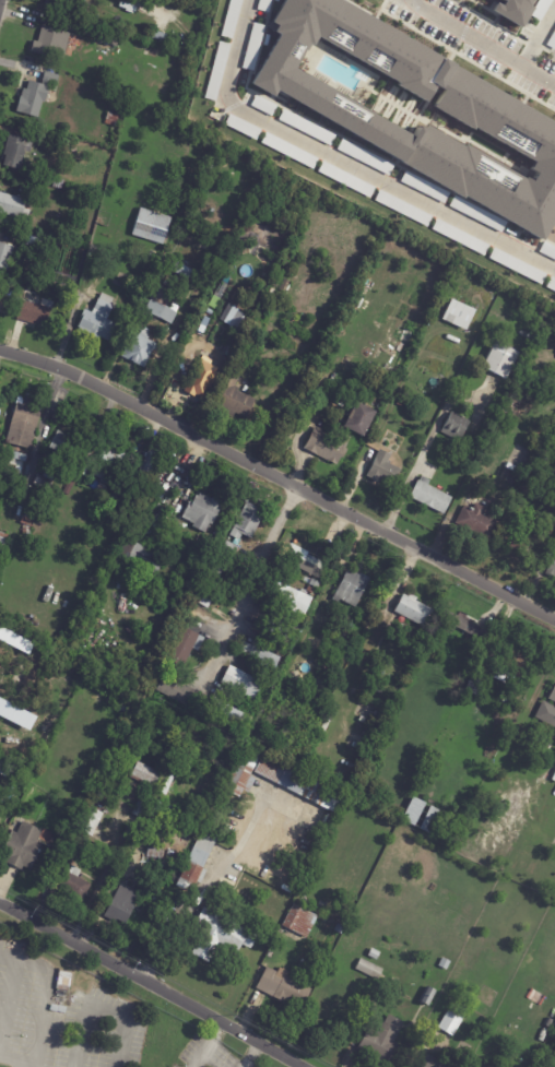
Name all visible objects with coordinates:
building: (517, 2)
building: (102, 3)
building: (59, 5)
building: (541, 9)
building: (229, 19)
road: (486, 37)
building: (111, 38)
building: (552, 39)
building: (50, 43)
building: (152, 50)
building: (215, 71)
building: (35, 96)
building: (493, 115)
building: (111, 118)
building: (241, 127)
building: (306, 127)
building: (37, 138)
building: (177, 142)
building: (236, 142)
building: (186, 145)
building: (190, 146)
building: (288, 150)
building: (17, 151)
building: (364, 157)
road: (343, 161)
building: (345, 179)
building: (59, 183)
building: (424, 187)
building: (14, 204)
building: (402, 208)
building: (366, 220)
building: (152, 226)
building: (188, 226)
building: (199, 226)
building: (460, 237)
building: (34, 245)
building: (547, 250)
building: (7, 256)
building: (517, 265)
building: (294, 268)
building: (284, 285)
building: (551, 285)
building: (165, 303)
building: (4, 305)
building: (35, 313)
building: (460, 315)
building: (97, 319)
building: (241, 322)
building: (141, 324)
building: (142, 348)
building: (503, 358)
building: (203, 378)
building: (368, 388)
building: (535, 395)
building: (237, 400)
building: (403, 400)
building: (361, 420)
building: (456, 425)
building: (25, 427)
building: (64, 444)
building: (328, 446)
road: (423, 452)
building: (550, 455)
building: (150, 462)
building: (82, 464)
building: (110, 464)
building: (383, 469)
road: (280, 475)
building: (43, 483)
building: (72, 484)
building: (162, 490)
building: (120, 495)
building: (430, 497)
building: (554, 499)
building: (200, 511)
building: (477, 522)
building: (31, 525)
building: (244, 530)
building: (3, 540)
building: (511, 542)
building: (142, 558)
building: (307, 564)
building: (552, 565)
building: (214, 569)
road: (247, 579)
building: (352, 588)
building: (292, 598)
building: (203, 602)
building: (416, 610)
building: (464, 626)
building: (272, 627)
building: (187, 647)
building: (263, 656)
building: (513, 667)
building: (243, 683)
building: (476, 686)
building: (176, 690)
building: (284, 697)
building: (554, 697)
building: (120, 700)
building: (231, 709)
building: (378, 714)
building: (551, 718)
building: (264, 720)
building: (127, 749)
building: (5, 764)
building: (245, 774)
building: (147, 775)
building: (294, 781)
building: (156, 807)
building: (140, 809)
building: (423, 816)
building: (92, 821)
building: (131, 831)
building: (24, 847)
building: (156, 854)
building: (200, 861)
building: (70, 884)
road: (206, 890)
building: (122, 903)
building: (302, 923)
building: (341, 929)
building: (222, 937)
building: (446, 964)
building: (369, 969)
road: (151, 985)
building: (284, 988)
road: (44, 994)
building: (430, 997)
road: (99, 1011)
building: (454, 1020)
building: (385, 1042)
road: (208, 1045)
road: (248, 1055)
road: (15, 1059)
building: (433, 1063)

